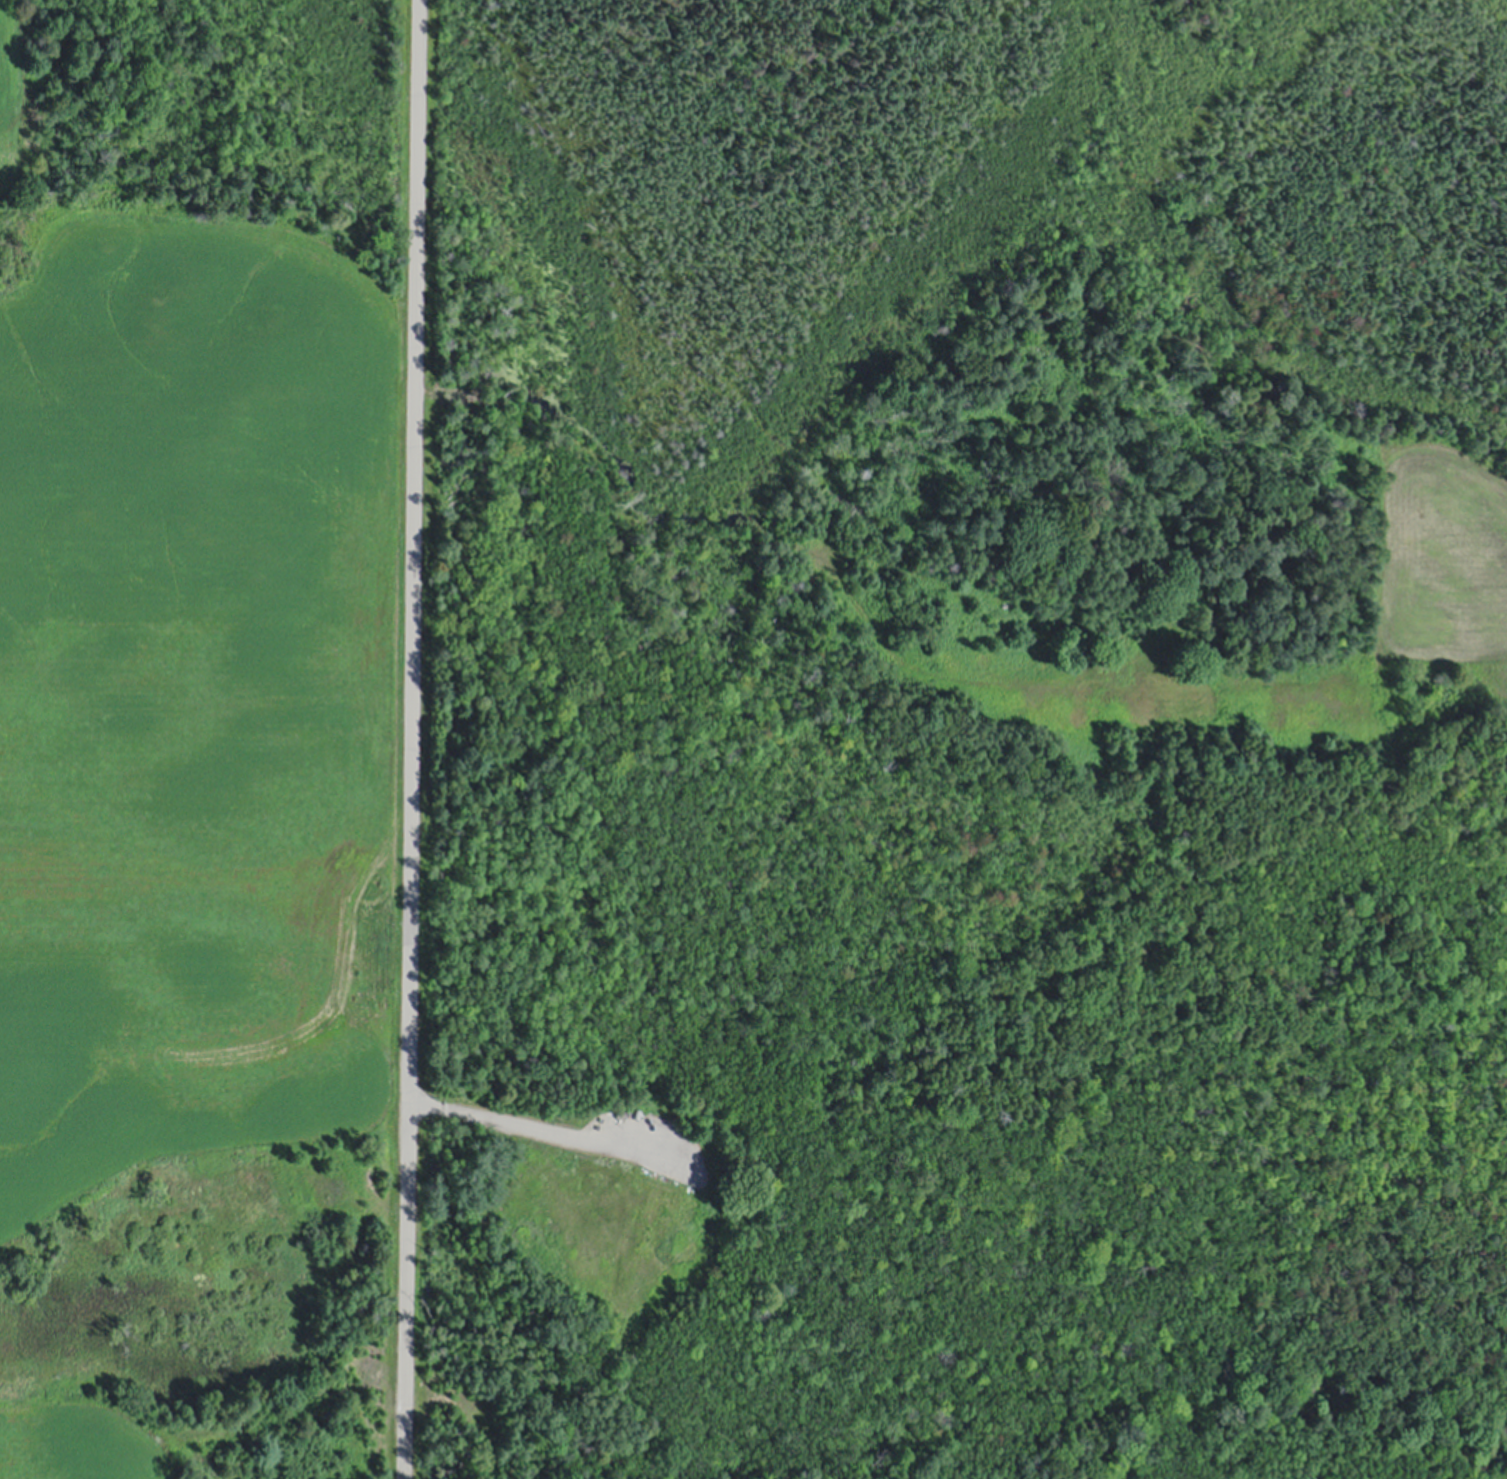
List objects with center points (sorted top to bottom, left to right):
road: (413, 739)
building: (622, 1112)
building: (637, 1113)
road: (547, 1131)

